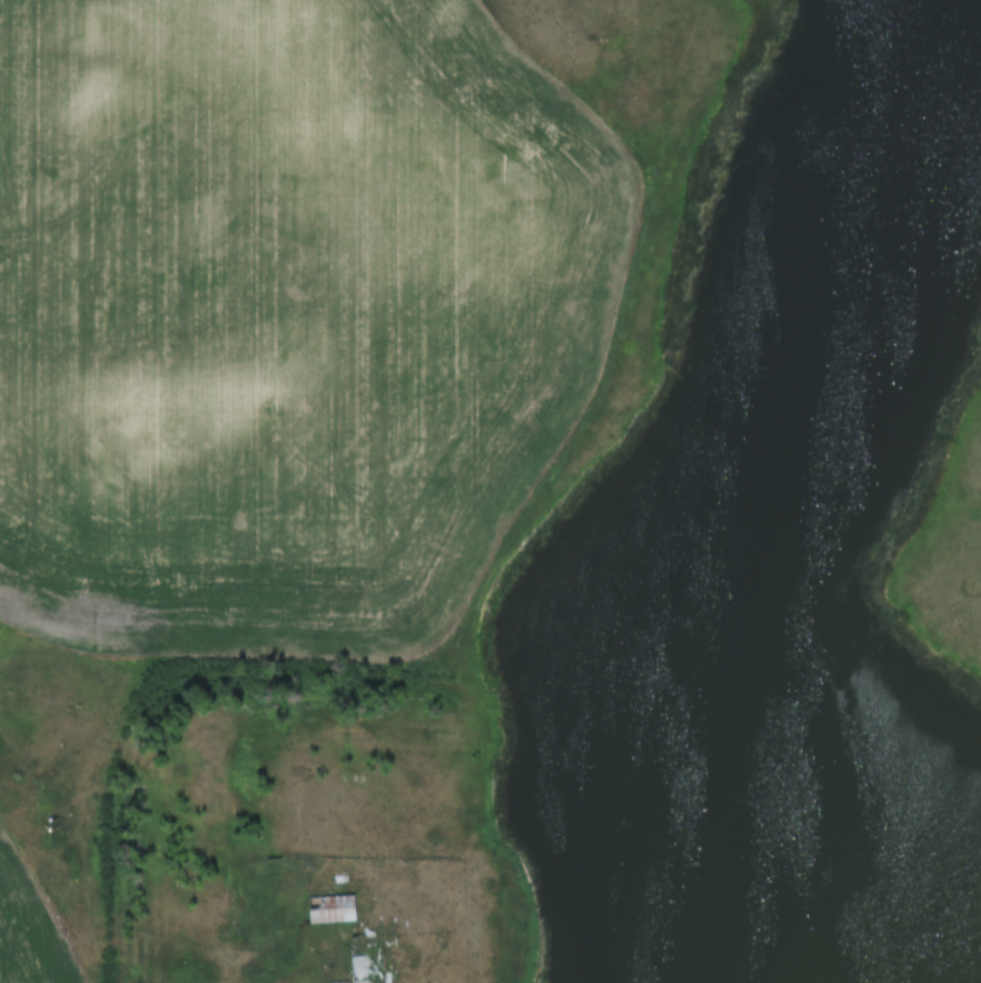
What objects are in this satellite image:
building: (327, 908)
building: (365, 969)

